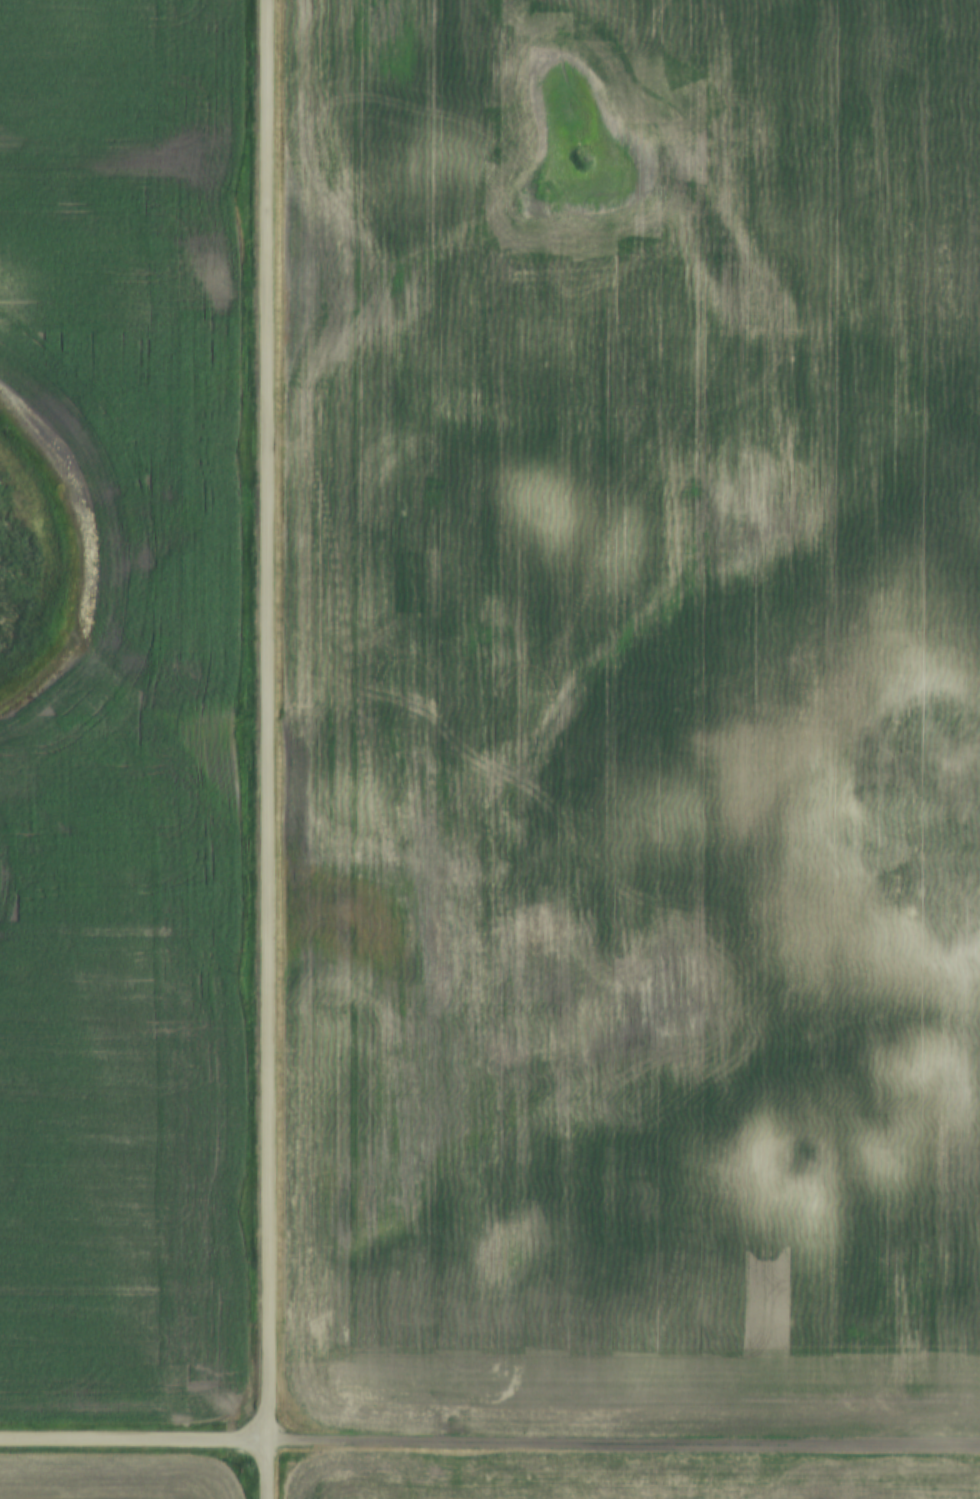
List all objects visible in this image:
road: (270, 749)
road: (136, 1443)
road: (625, 1443)

